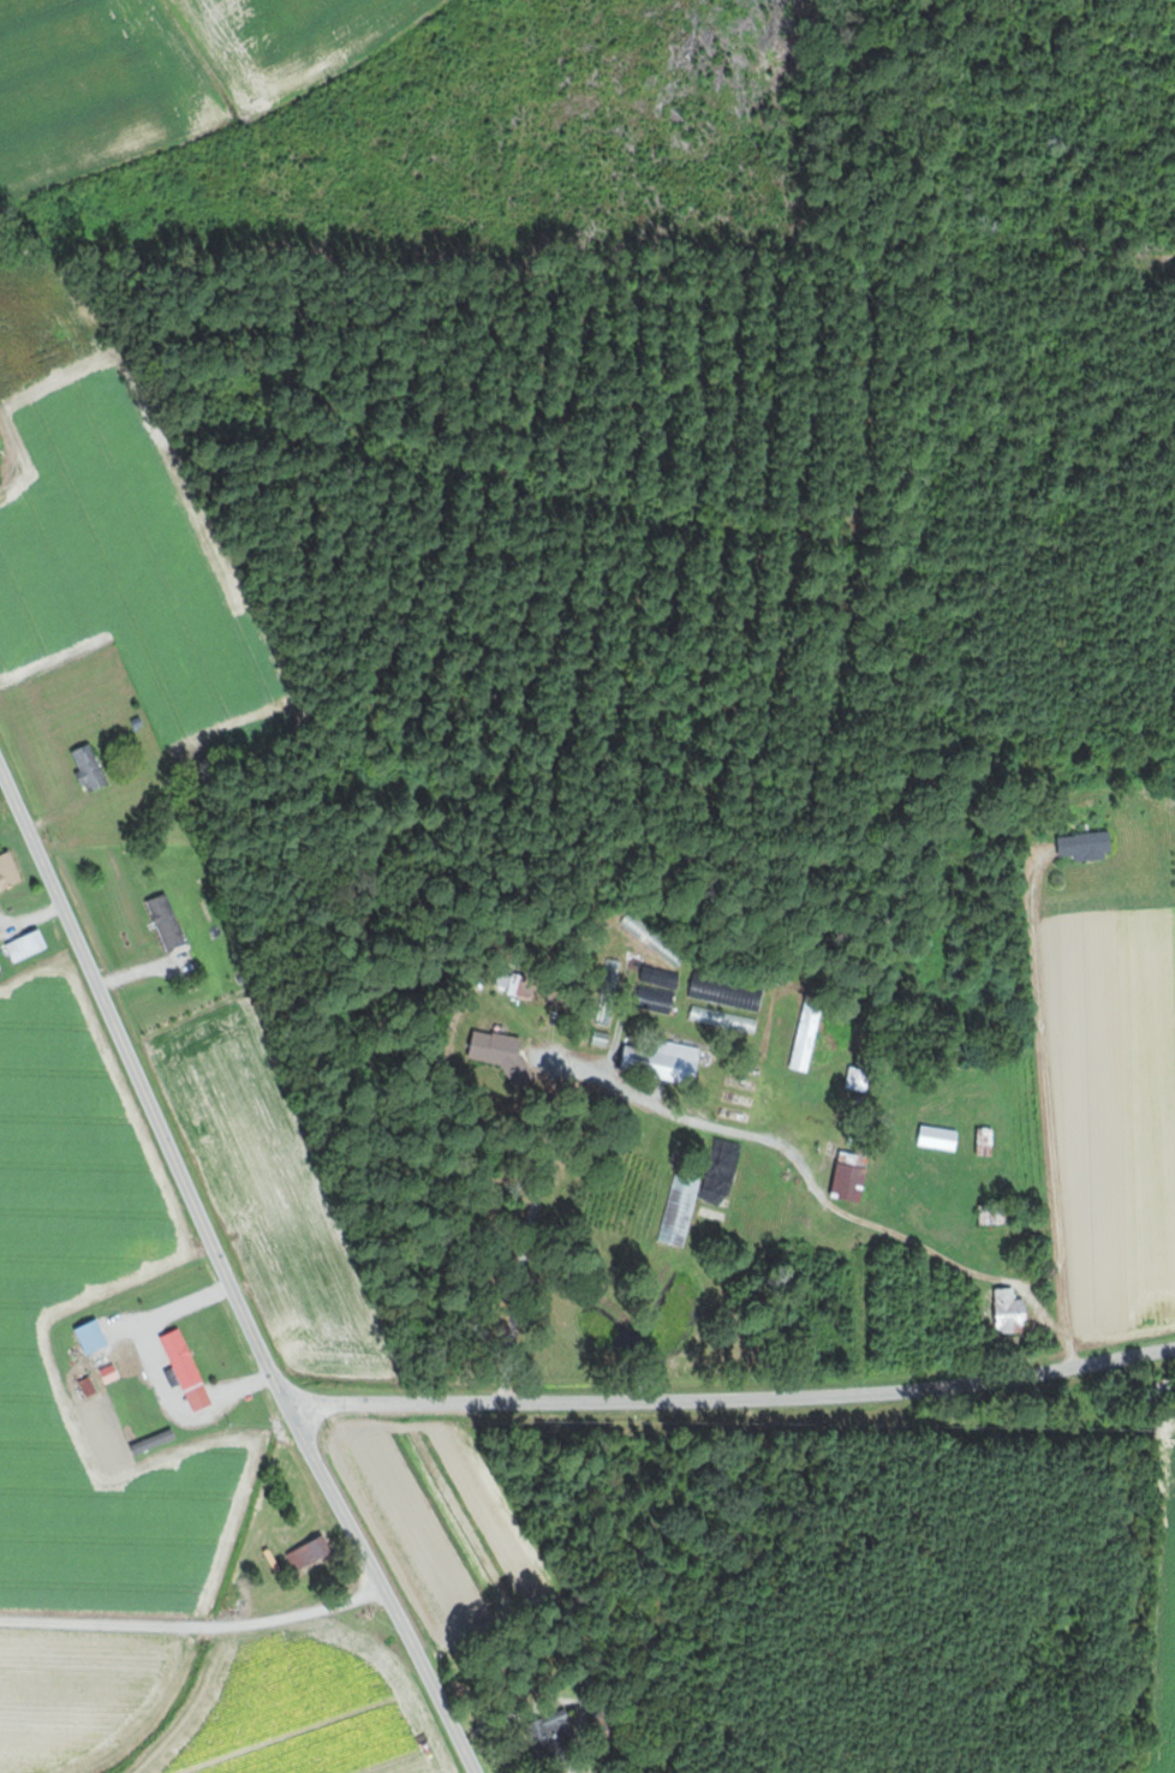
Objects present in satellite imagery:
building: (91, 766)
building: (1088, 844)
building: (10, 872)
building: (169, 921)
building: (31, 945)
building: (663, 984)
building: (806, 1038)
building: (499, 1047)
building: (667, 1059)
road: (1050, 1108)
building: (943, 1138)
building: (853, 1182)
road: (815, 1189)
building: (681, 1210)
building: (997, 1214)
road: (226, 1276)
building: (1014, 1313)
building: (99, 1343)
road: (735, 1402)
building: (314, 1553)

